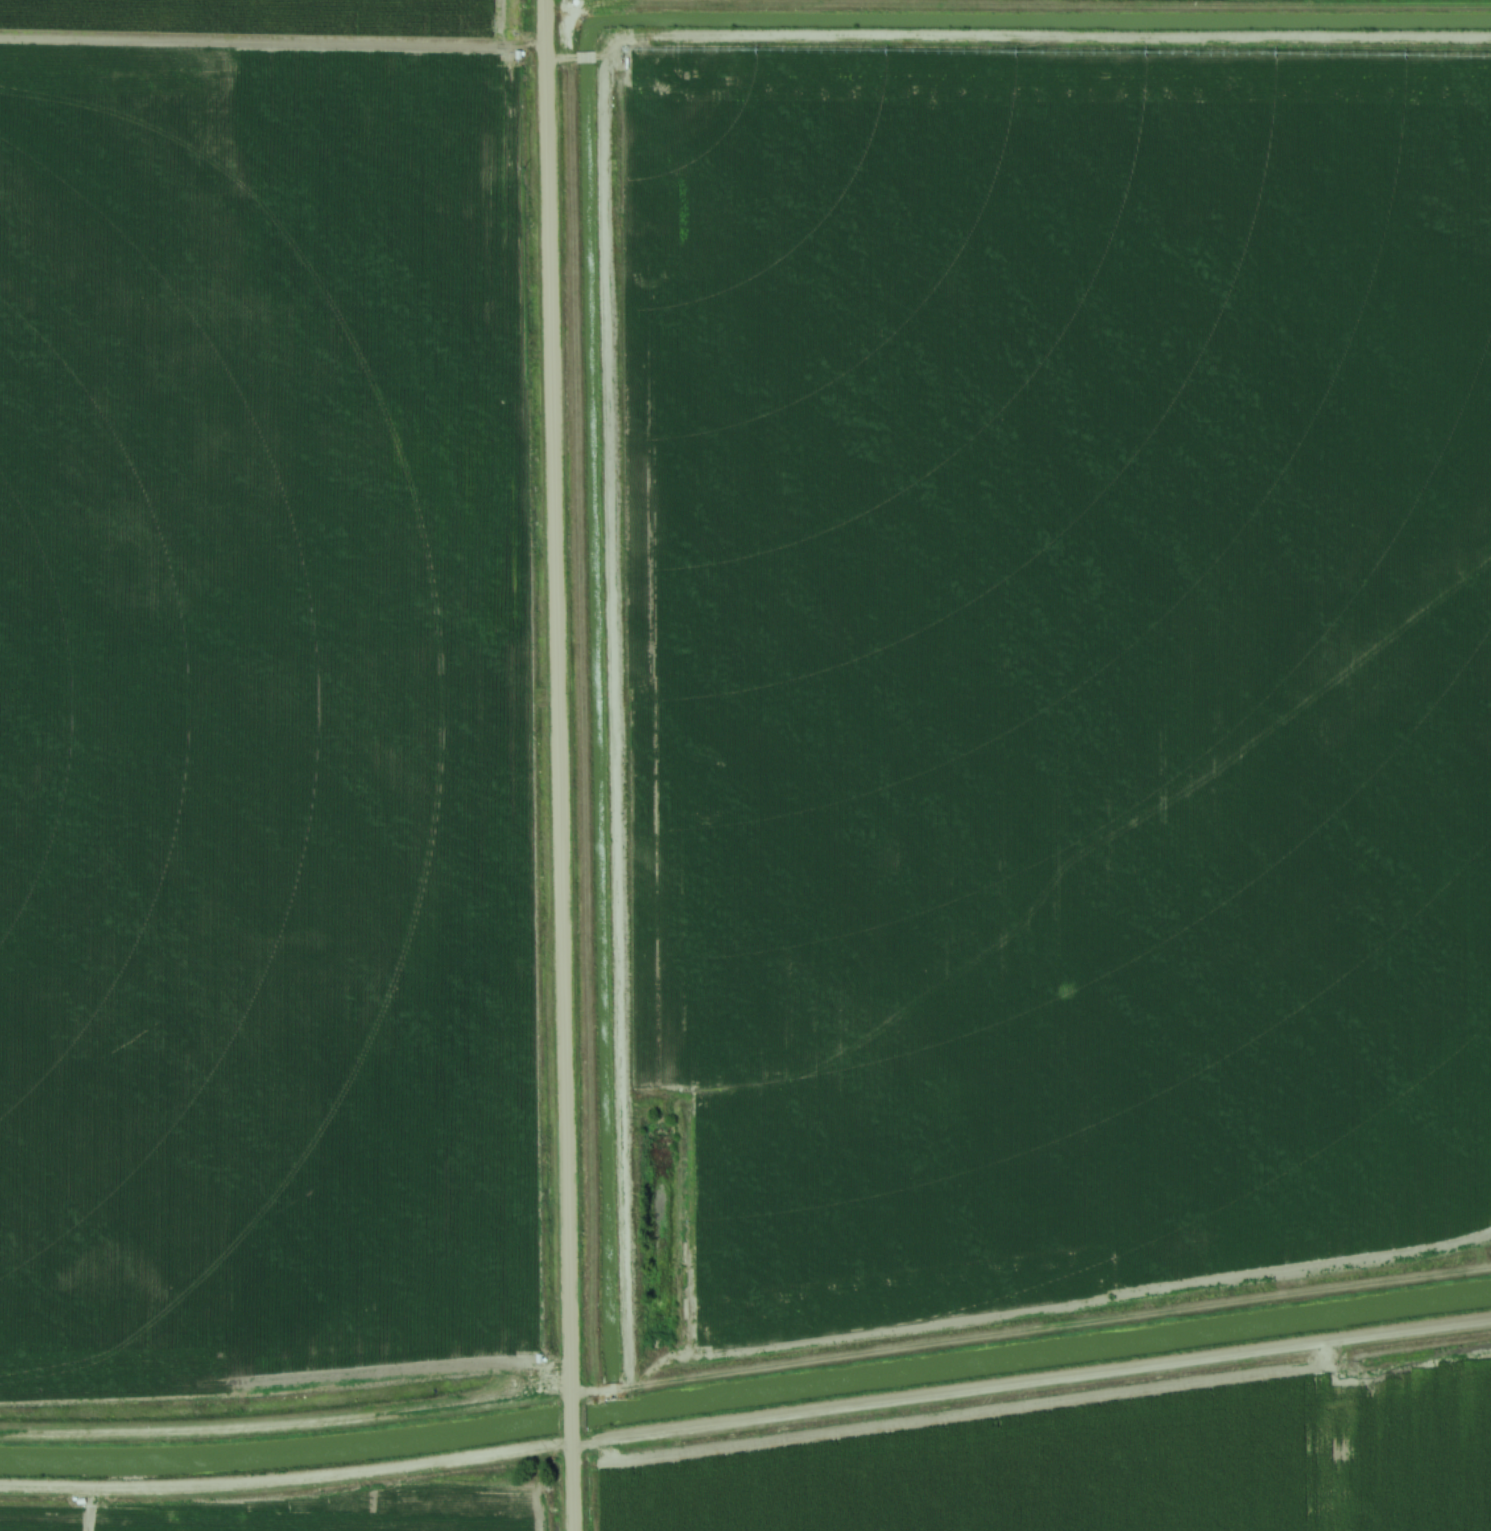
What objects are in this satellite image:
crop: (262, 18)
road: (550, 699)
building: (684, 1334)
road: (1030, 1382)
road: (570, 1417)
road: (285, 1428)
crop: (1110, 1464)
road: (570, 1482)
crop: (361, 1504)
crop: (40, 1514)

